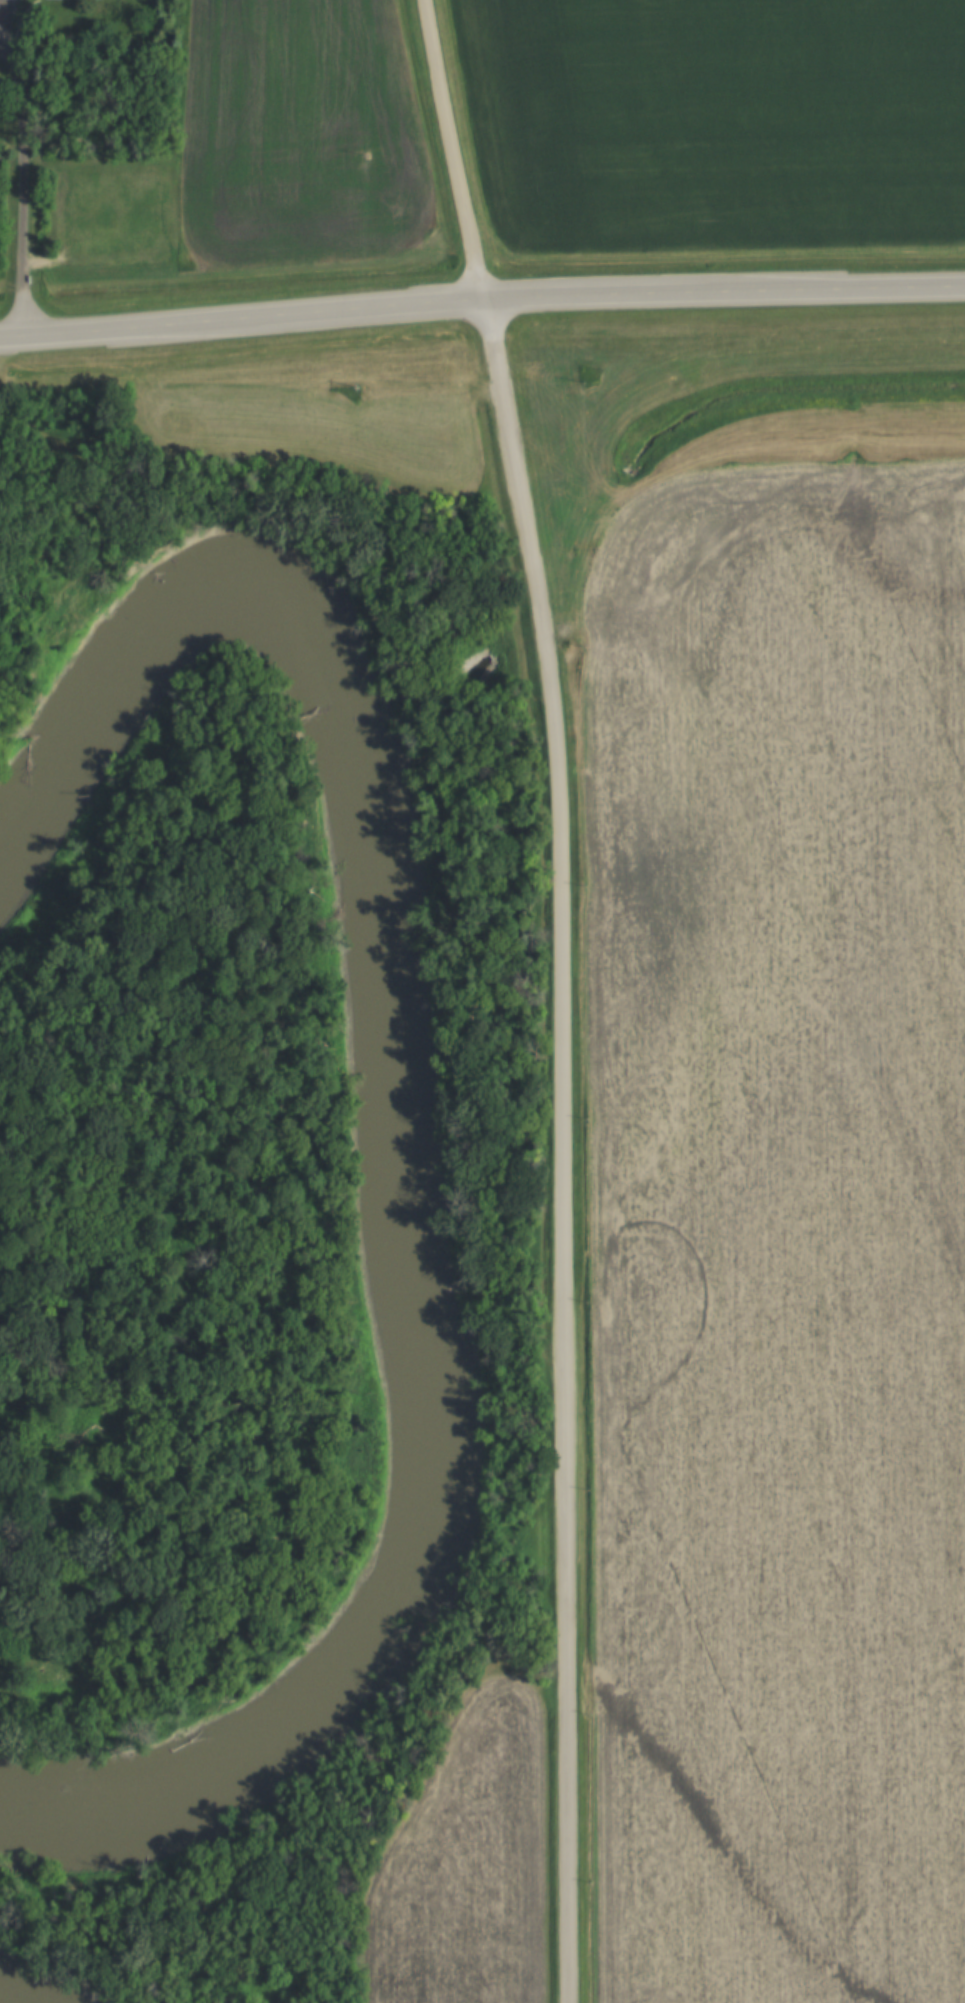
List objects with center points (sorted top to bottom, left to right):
crop: (719, 121)
crop: (301, 133)
road: (456, 149)
road: (24, 181)
road: (481, 299)
river: (155, 612)
road: (562, 1147)
crop: (779, 1236)
river: (403, 1375)
crop: (467, 1865)

